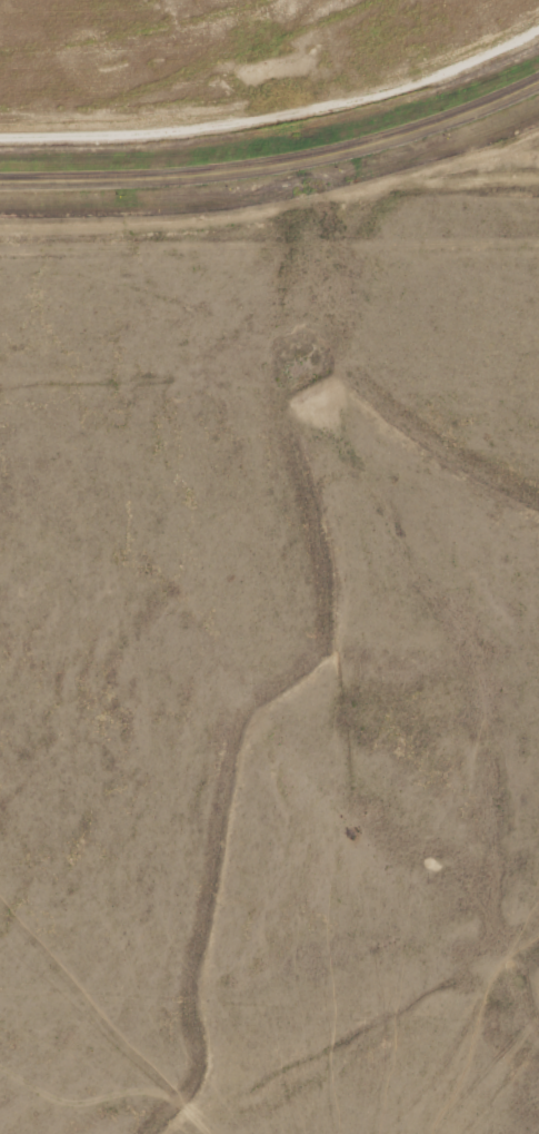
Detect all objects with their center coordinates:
road: (278, 116)
road: (276, 168)

